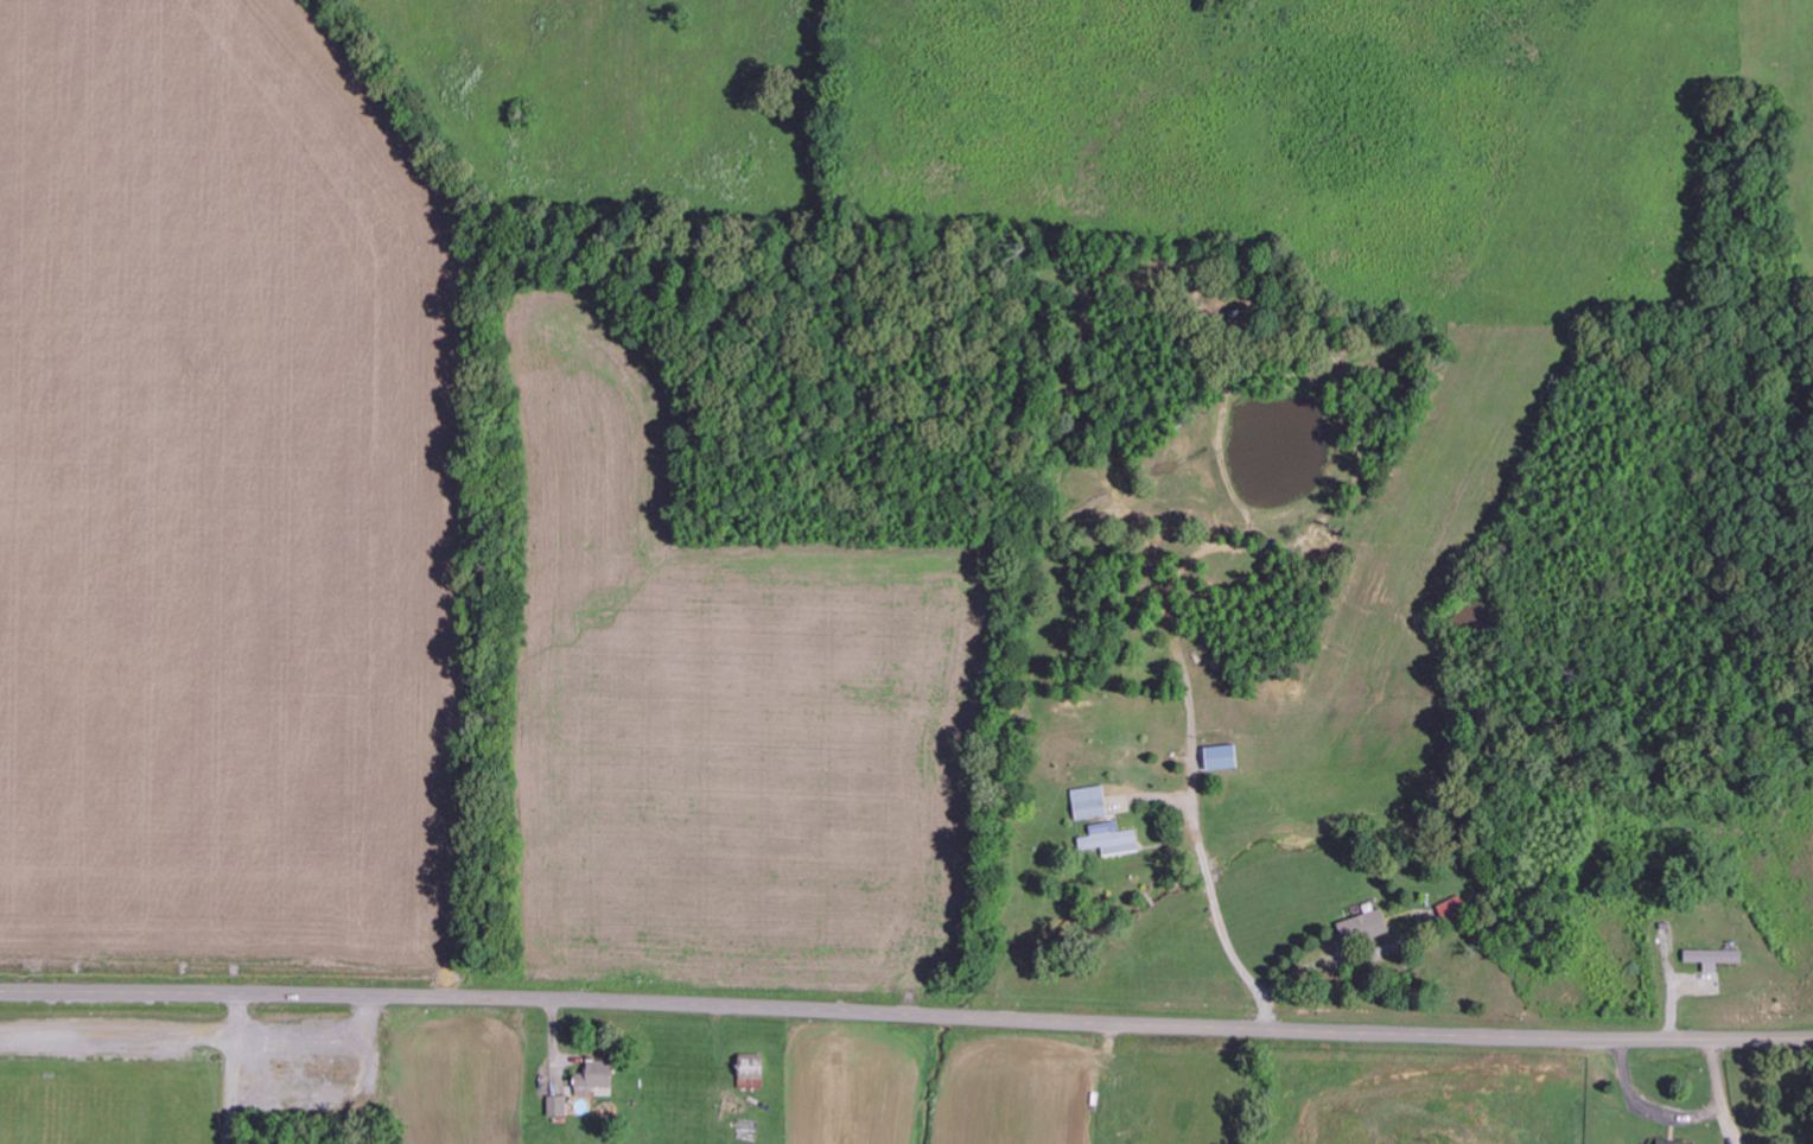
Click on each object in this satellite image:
building: (1223, 757)
building: (1092, 802)
building: (1113, 839)
building: (1366, 929)
building: (1716, 958)
road: (906, 1010)
road: (146, 1066)
building: (753, 1070)
park: (185, 1076)
road: (82, 1104)
building: (1671, 1142)

